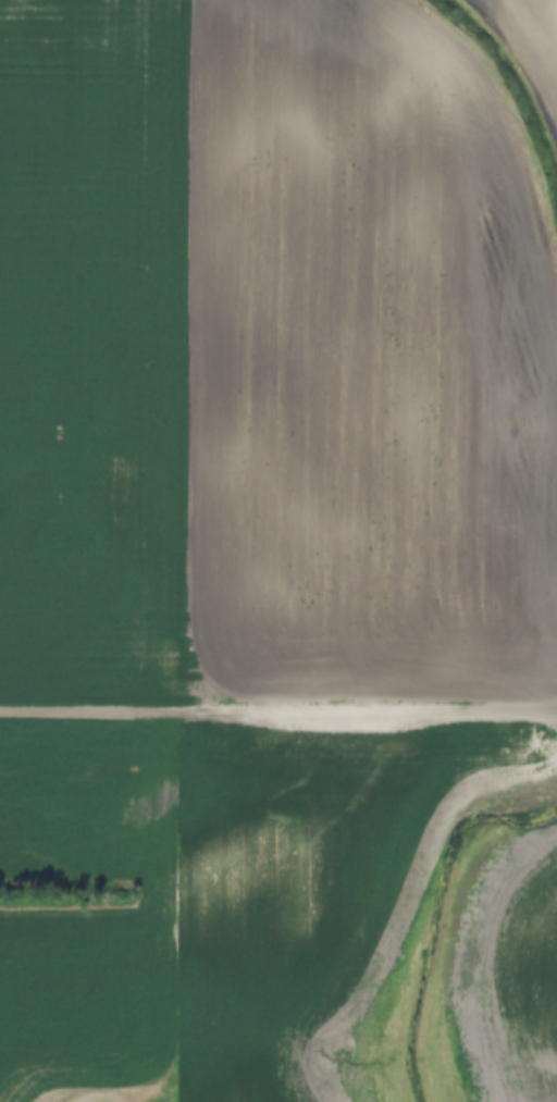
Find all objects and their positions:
road: (278, 714)

